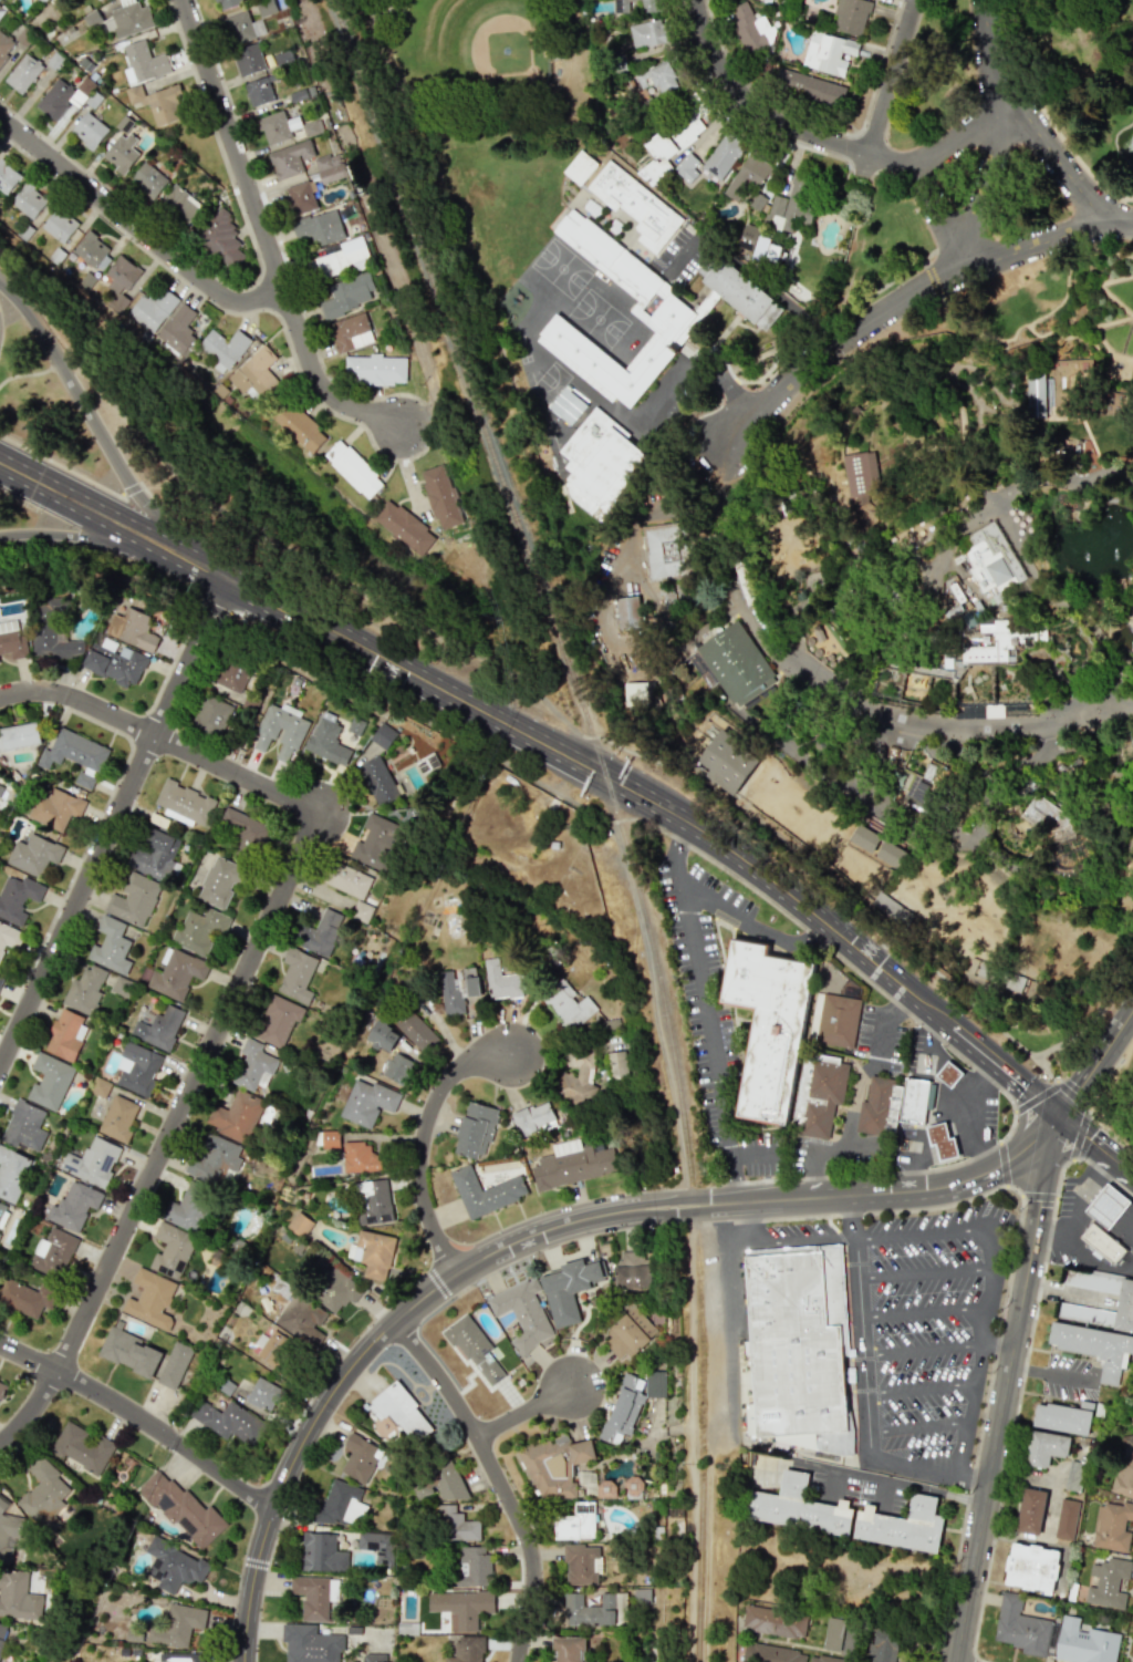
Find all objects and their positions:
building: (227, 3)
building: (653, 4)
building: (622, 6)
building: (266, 7)
building: (1, 10)
building: (851, 16)
building: (128, 19)
building: (751, 27)
building: (241, 28)
building: (649, 32)
building: (4, 45)
road: (380, 47)
park: (480, 49)
building: (829, 53)
building: (248, 59)
building: (143, 62)
building: (22, 73)
building: (663, 74)
building: (809, 86)
road: (886, 87)
building: (259, 91)
building: (58, 99)
building: (158, 103)
building: (645, 107)
road: (1044, 115)
road: (772, 118)
building: (277, 127)
building: (89, 130)
road: (1035, 130)
road: (964, 133)
building: (674, 138)
building: (121, 153)
building: (726, 153)
building: (289, 158)
building: (326, 167)
building: (581, 167)
building: (688, 167)
building: (750, 173)
building: (7, 177)
building: (148, 179)
building: (300, 197)
building: (28, 200)
building: (757, 202)
building: (801, 203)
building: (179, 204)
building: (636, 205)
building: (776, 211)
road: (936, 217)
building: (58, 227)
road: (138, 227)
building: (319, 227)
road: (268, 237)
building: (750, 237)
building: (220, 238)
road: (1031, 240)
building: (90, 249)
building: (775, 256)
building: (339, 258)
building: (122, 281)
road: (1102, 286)
road: (906, 293)
building: (349, 295)
road: (1058, 303)
building: (152, 309)
building: (645, 313)
road: (984, 324)
road: (1096, 324)
building: (178, 330)
building: (351, 332)
building: (224, 349)
road: (1132, 358)
fountain: (1119, 364)
road: (690, 367)
building: (375, 369)
road: (37, 371)
building: (254, 372)
road: (1125, 378)
building: (568, 406)
road: (997, 412)
road: (979, 423)
road: (96, 426)
building: (300, 427)
road: (999, 427)
road: (1019, 437)
road: (946, 446)
building: (1069, 456)
road: (60, 464)
building: (601, 465)
building: (353, 468)
building: (861, 473)
road: (1130, 475)
road: (1059, 476)
road: (148, 483)
building: (441, 496)
road: (74, 500)
building: (404, 527)
road: (73, 534)
building: (738, 540)
building: (672, 550)
road: (175, 554)
road: (723, 557)
building: (992, 558)
road: (883, 559)
park: (934, 560)
road: (313, 561)
road: (212, 574)
building: (747, 578)
road: (1121, 584)
road: (819, 586)
road: (1127, 588)
building: (891, 591)
road: (1102, 596)
road: (1049, 597)
road: (922, 606)
road: (600, 607)
road: (1083, 612)
building: (628, 613)
building: (965, 619)
building: (769, 620)
road: (706, 622)
building: (132, 629)
road: (870, 629)
road: (796, 636)
building: (12, 640)
building: (52, 641)
road: (666, 641)
building: (978, 648)
road: (1037, 649)
building: (735, 661)
road: (777, 661)
building: (114, 662)
road: (668, 667)
road: (781, 668)
building: (229, 674)
road: (1113, 685)
road: (665, 701)
road: (823, 706)
road: (867, 710)
road: (835, 712)
building: (211, 715)
railway: (585, 715)
road: (1047, 723)
road: (437, 730)
building: (279, 732)
building: (1131, 732)
building: (20, 735)
building: (382, 735)
road: (159, 737)
road: (804, 737)
building: (328, 740)
road: (855, 741)
building: (819, 742)
road: (1103, 743)
road: (957, 745)
road: (1072, 747)
road: (835, 749)
building: (74, 752)
road: (797, 754)
building: (891, 755)
building: (727, 757)
road: (875, 758)
road: (975, 768)
building: (954, 774)
road: (967, 774)
road: (998, 774)
building: (84, 780)
building: (377, 781)
road: (883, 784)
road: (1091, 784)
building: (0, 788)
building: (916, 792)
road: (1126, 801)
building: (185, 803)
road: (866, 805)
building: (56, 808)
road: (666, 808)
road: (883, 812)
road: (963, 812)
building: (1049, 814)
road: (111, 824)
road: (890, 825)
building: (243, 827)
road: (683, 829)
road: (886, 832)
road: (885, 834)
building: (865, 835)
building: (376, 842)
road: (909, 843)
road: (675, 849)
building: (1073, 850)
building: (890, 851)
building: (33, 854)
building: (154, 855)
road: (807, 874)
building: (347, 880)
building: (219, 882)
building: (17, 897)
road: (1069, 898)
building: (133, 900)
building: (892, 907)
road: (721, 908)
building: (361, 910)
building: (199, 930)
building: (319, 932)
building: (9, 937)
road: (794, 939)
building: (111, 946)
road: (852, 968)
building: (176, 973)
building: (297, 974)
building: (1000, 974)
building: (0, 979)
building: (501, 981)
building: (84, 990)
building: (458, 990)
building: (569, 1005)
road: (705, 1005)
road: (898, 1005)
building: (838, 1020)
building: (277, 1021)
building: (770, 1024)
road: (1088, 1025)
building: (158, 1026)
building: (415, 1030)
building: (65, 1035)
building: (382, 1036)
road: (928, 1038)
road: (1095, 1059)
road: (938, 1062)
building: (616, 1064)
building: (253, 1065)
building: (398, 1067)
building: (136, 1069)
building: (948, 1072)
gas station: (948, 1072)
building: (578, 1073)
road: (1046, 1076)
road: (981, 1080)
building: (50, 1081)
road: (960, 1082)
road: (854, 1093)
road: (1035, 1095)
road: (1072, 1095)
road: (1093, 1097)
building: (914, 1100)
building: (367, 1102)
road: (975, 1109)
traffic signals: (1059, 1114)
building: (235, 1115)
road: (1021, 1117)
building: (117, 1118)
building: (534, 1118)
building: (24, 1126)
road: (950, 1128)
building: (476, 1129)
road: (971, 1132)
road: (1079, 1133)
road: (924, 1135)
road: (170, 1136)
building: (330, 1139)
road: (676, 1139)
building: (942, 1139)
gas station: (942, 1139)
road: (426, 1142)
road: (1095, 1144)
road: (959, 1145)
road: (981, 1147)
road: (1073, 1149)
road: (749, 1150)
road: (934, 1152)
road: (923, 1157)
building: (212, 1158)
building: (360, 1158)
road: (915, 1159)
building: (92, 1162)
road: (1002, 1163)
building: (574, 1164)
road: (880, 1171)
building: (12, 1173)
road: (817, 1175)
road: (730, 1176)
building: (485, 1191)
building: (372, 1201)
building: (74, 1205)
building: (1108, 1206)
building: (188, 1208)
building: (2, 1211)
building: (299, 1224)
road: (721, 1224)
road: (923, 1232)
building: (0, 1233)
road: (538, 1235)
road: (807, 1240)
building: (1103, 1242)
road: (742, 1243)
road: (991, 1248)
building: (171, 1250)
building: (52, 1252)
building: (373, 1253)
building: (631, 1271)
road: (925, 1273)
building: (1092, 1281)
road: (1007, 1282)
road: (991, 1288)
building: (570, 1289)
building: (336, 1290)
road: (1071, 1293)
building: (22, 1299)
building: (150, 1299)
building: (1125, 1308)
road: (925, 1312)
building: (523, 1313)
parking lot: (922, 1313)
building: (1084, 1313)
building: (301, 1320)
road: (988, 1326)
road: (848, 1329)
building: (630, 1333)
road: (1002, 1345)
building: (1093, 1346)
building: (274, 1349)
building: (476, 1350)
building: (129, 1351)
building: (797, 1351)
road: (923, 1351)
road: (979, 1364)
building: (174, 1365)
road: (1022, 1374)
road: (1053, 1374)
building: (655, 1384)
road: (1011, 1387)
road: (918, 1389)
building: (2, 1390)
road: (863, 1392)
building: (263, 1394)
road: (971, 1403)
building: (624, 1408)
road: (729, 1411)
building: (401, 1412)
road: (529, 1413)
building: (1064, 1416)
road: (142, 1420)
building: (228, 1421)
road: (917, 1425)
road: (964, 1446)
building: (82, 1447)
building: (1047, 1447)
building: (358, 1457)
building: (554, 1465)
building: (1074, 1476)
road: (500, 1479)
building: (1124, 1479)
road: (904, 1482)
building: (439, 1483)
building: (628, 1487)
building: (606, 1489)
building: (45, 1496)
building: (340, 1504)
building: (798, 1507)
building: (183, 1509)
building: (1031, 1510)
building: (1067, 1519)
building: (575, 1522)
building: (455, 1525)
building: (903, 1525)
building: (1112, 1525)
building: (8, 1529)
building: (376, 1545)
building: (321, 1553)
road: (693, 1562)
railway: (700, 1562)
building: (581, 1563)
building: (173, 1566)
building: (472, 1566)
building: (1031, 1567)
building: (838, 1576)
building: (1108, 1583)
building: (314, 1596)
building: (18, 1597)
building: (461, 1607)
building: (594, 1609)
building: (775, 1618)
building: (176, 1624)
road: (891, 1627)
building: (1021, 1627)
building: (833, 1630)
building: (2, 1633)
building: (310, 1644)
building: (1084, 1644)
building: (882, 1646)
building: (467, 1649)
building: (568, 1649)
building: (770, 1654)
building: (179, 1658)
building: (373, 1658)
building: (825, 1658)
road: (1132, 1660)

